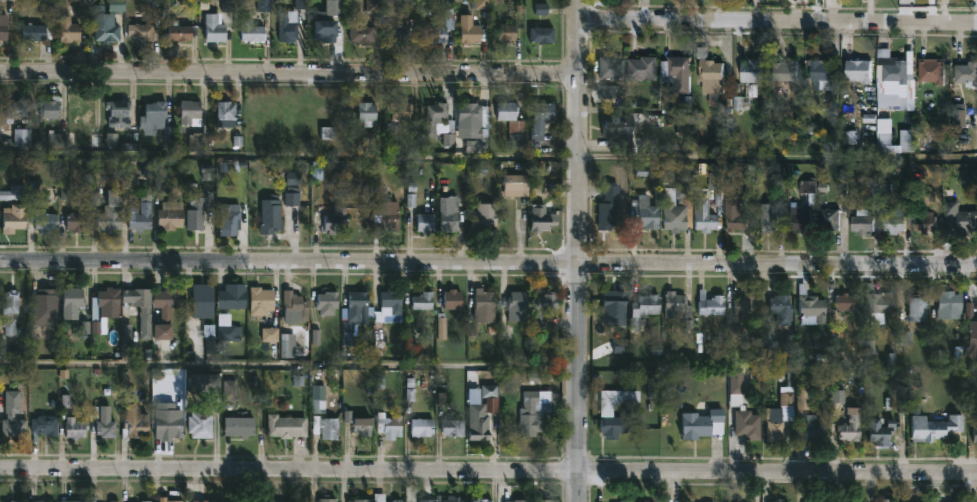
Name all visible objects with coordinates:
building: (116, 7)
building: (334, 9)
building: (1, 18)
road: (777, 20)
building: (289, 26)
building: (440, 27)
building: (216, 29)
building: (70, 30)
building: (181, 30)
building: (471, 30)
building: (2, 31)
building: (142, 31)
building: (38, 32)
building: (254, 32)
building: (108, 33)
building: (397, 33)
building: (509, 33)
building: (328, 34)
building: (364, 34)
building: (545, 35)
building: (611, 67)
building: (645, 69)
building: (857, 69)
building: (782, 70)
building: (929, 70)
road: (289, 73)
building: (677, 73)
building: (821, 73)
building: (966, 73)
building: (708, 74)
building: (744, 82)
building: (894, 82)
building: (51, 108)
building: (16, 111)
building: (191, 111)
building: (368, 111)
building: (400, 113)
building: (474, 113)
building: (81, 114)
building: (120, 114)
building: (227, 114)
building: (156, 116)
building: (435, 118)
building: (543, 120)
building: (514, 123)
building: (620, 128)
building: (881, 133)
building: (24, 137)
building: (481, 139)
building: (200, 141)
road: (488, 157)
building: (779, 174)
building: (62, 177)
building: (517, 183)
building: (814, 188)
building: (15, 192)
building: (684, 194)
building: (293, 200)
building: (611, 206)
building: (112, 210)
building: (648, 212)
building: (196, 214)
building: (271, 214)
building: (391, 214)
building: (451, 214)
building: (737, 214)
building: (172, 215)
building: (486, 215)
building: (676, 215)
building: (706, 215)
building: (771, 215)
building: (140, 217)
building: (802, 217)
building: (832, 217)
building: (12, 218)
building: (230, 218)
building: (544, 218)
building: (958, 219)
building: (861, 220)
building: (891, 220)
building: (78, 221)
building: (337, 221)
building: (44, 222)
building: (428, 222)
building: (925, 223)
road: (578, 250)
road: (488, 261)
building: (75, 297)
building: (235, 297)
building: (173, 298)
building: (203, 298)
building: (876, 299)
building: (263, 300)
building: (425, 300)
building: (141, 301)
building: (842, 301)
building: (46, 302)
building: (330, 303)
building: (713, 303)
building: (359, 304)
building: (808, 304)
building: (946, 304)
building: (679, 305)
building: (106, 306)
building: (486, 306)
building: (519, 306)
building: (545, 306)
building: (296, 307)
building: (779, 307)
building: (914, 307)
building: (646, 308)
building: (745, 310)
building: (388, 311)
building: (12, 313)
building: (442, 313)
building: (228, 330)
building: (970, 347)
road: (289, 368)
building: (206, 385)
building: (491, 396)
building: (608, 410)
building: (743, 411)
building: (538, 412)
building: (14, 414)
building: (777, 414)
building: (134, 416)
building: (202, 424)
building: (393, 424)
building: (704, 424)
building: (45, 425)
building: (848, 425)
building: (170, 426)
building: (288, 426)
building: (480, 426)
building: (238, 427)
building: (423, 427)
building: (810, 427)
building: (932, 427)
building: (76, 428)
building: (328, 428)
building: (363, 428)
building: (452, 428)
building: (107, 430)
building: (973, 430)
building: (877, 431)
road: (488, 472)
building: (381, 497)
building: (455, 497)
building: (328, 499)
building: (361, 500)
building: (399, 500)
building: (484, 500)
building: (520, 500)
building: (546, 500)
building: (775, 500)
building: (828, 500)
building: (882, 500)
building: (18, 501)
building: (38, 501)
building: (76, 501)
building: (115, 501)
building: (146, 501)
building: (173, 501)
building: (209, 501)
building: (273, 501)
building: (389, 501)
building: (627, 501)
building: (649, 501)
building: (884, 501)
building: (974, 501)

